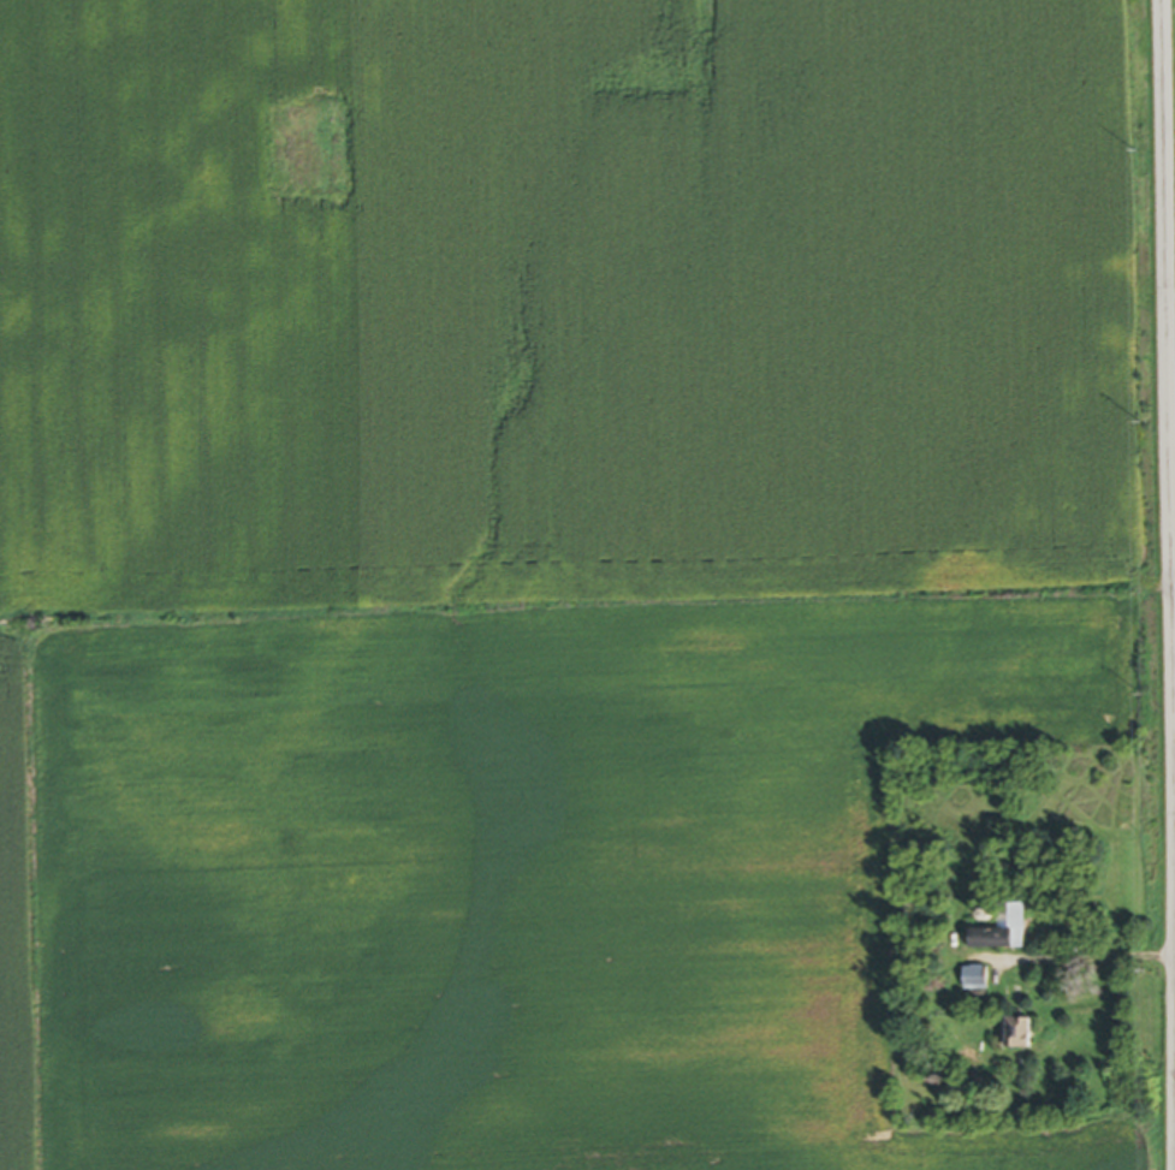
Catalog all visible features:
road: (1169, 281)
building: (1005, 930)
road: (1084, 950)
building: (980, 981)
building: (1026, 1037)

